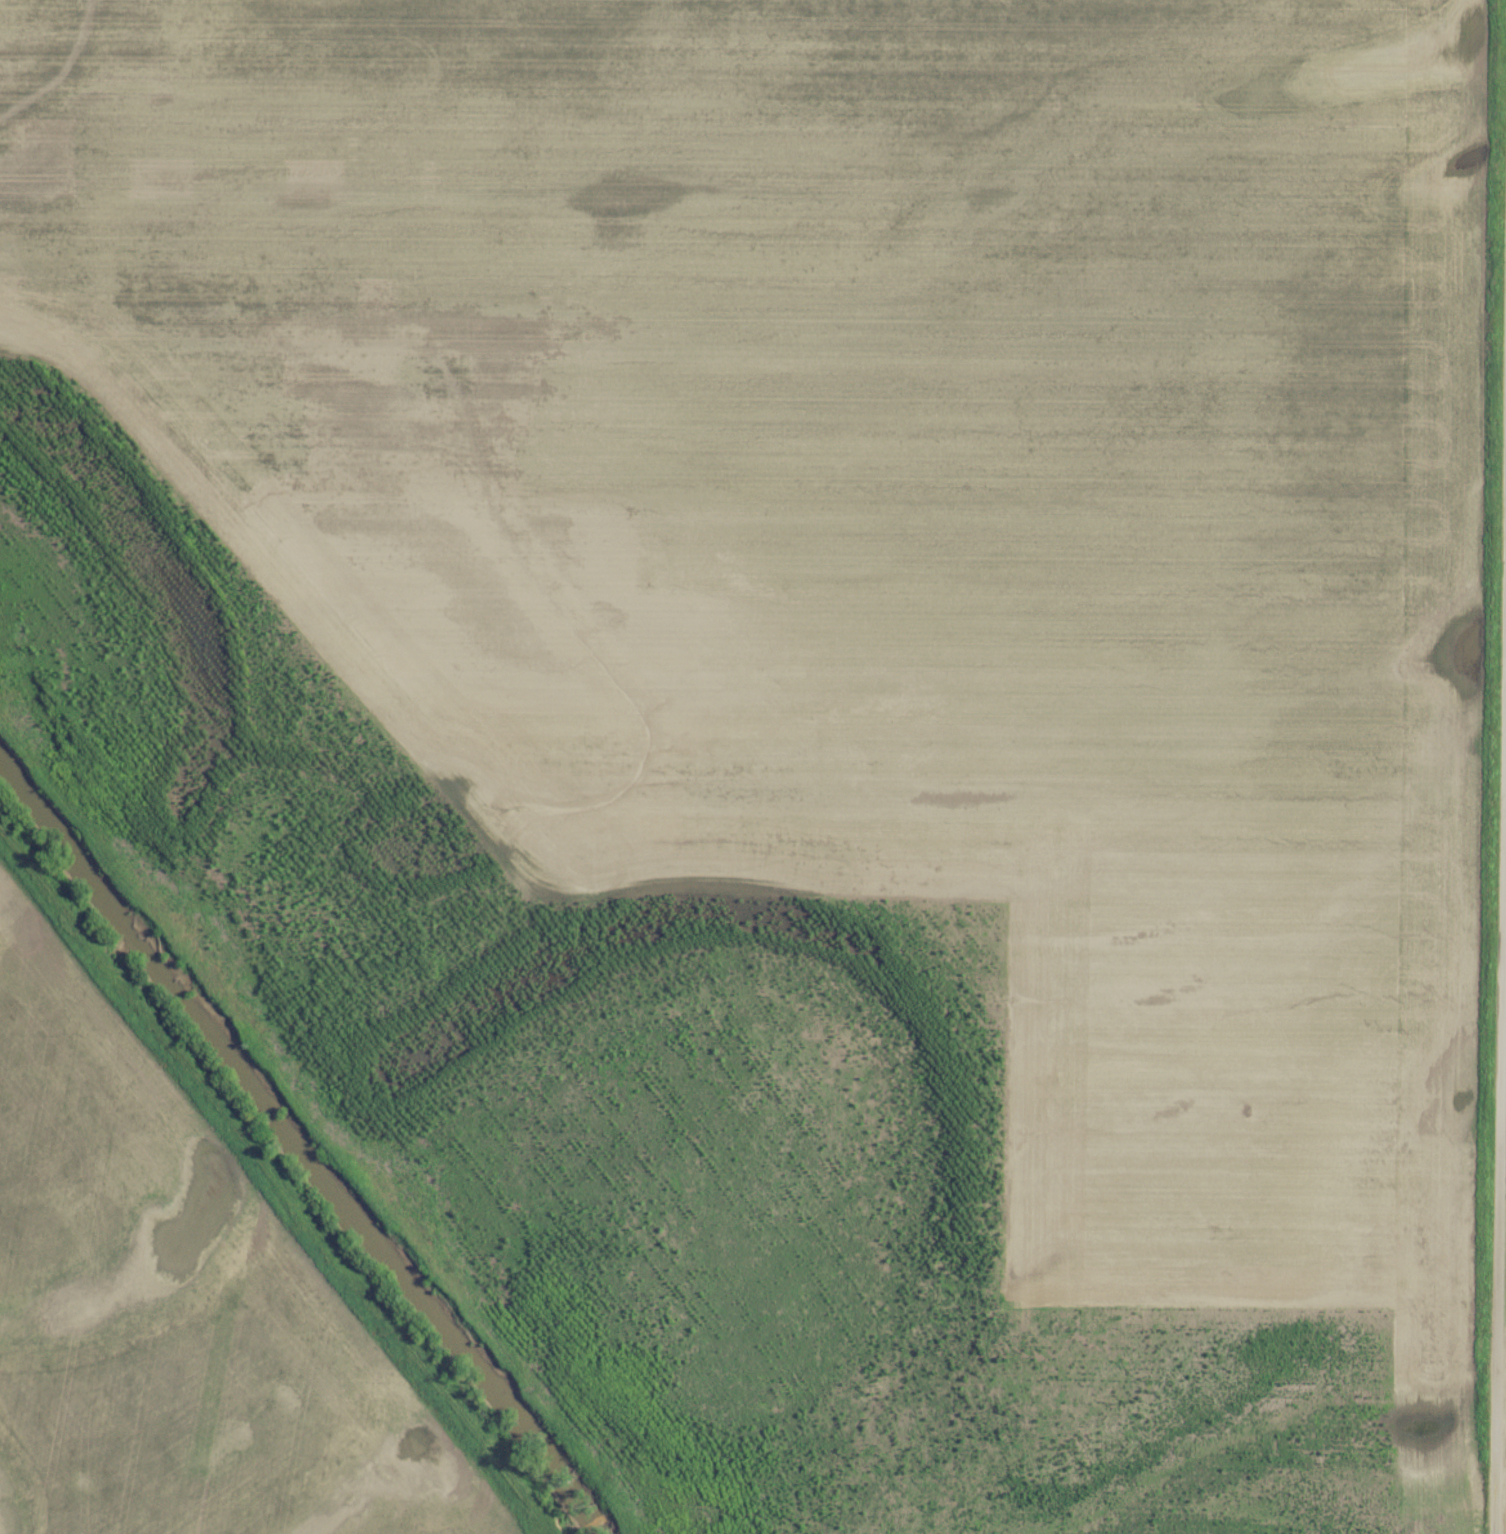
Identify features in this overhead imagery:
road: (1499, 1038)

